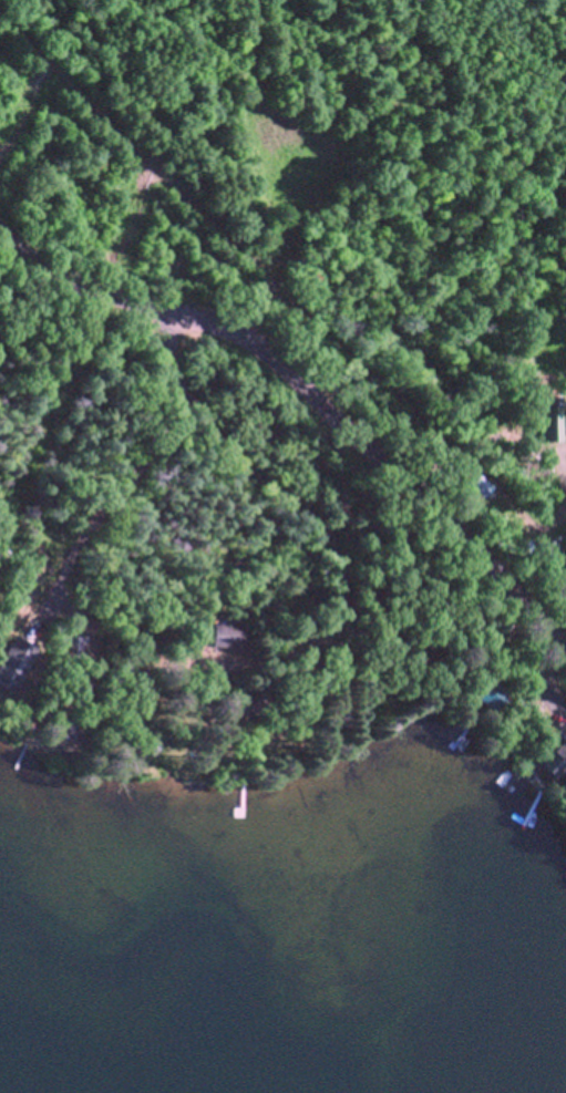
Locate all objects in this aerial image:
road: (315, 394)
road: (55, 411)
building: (552, 423)
road: (218, 435)
building: (393, 621)
building: (228, 632)
building: (76, 647)
building: (16, 658)
building: (493, 688)
building: (248, 699)
building: (63, 716)
building: (554, 757)

